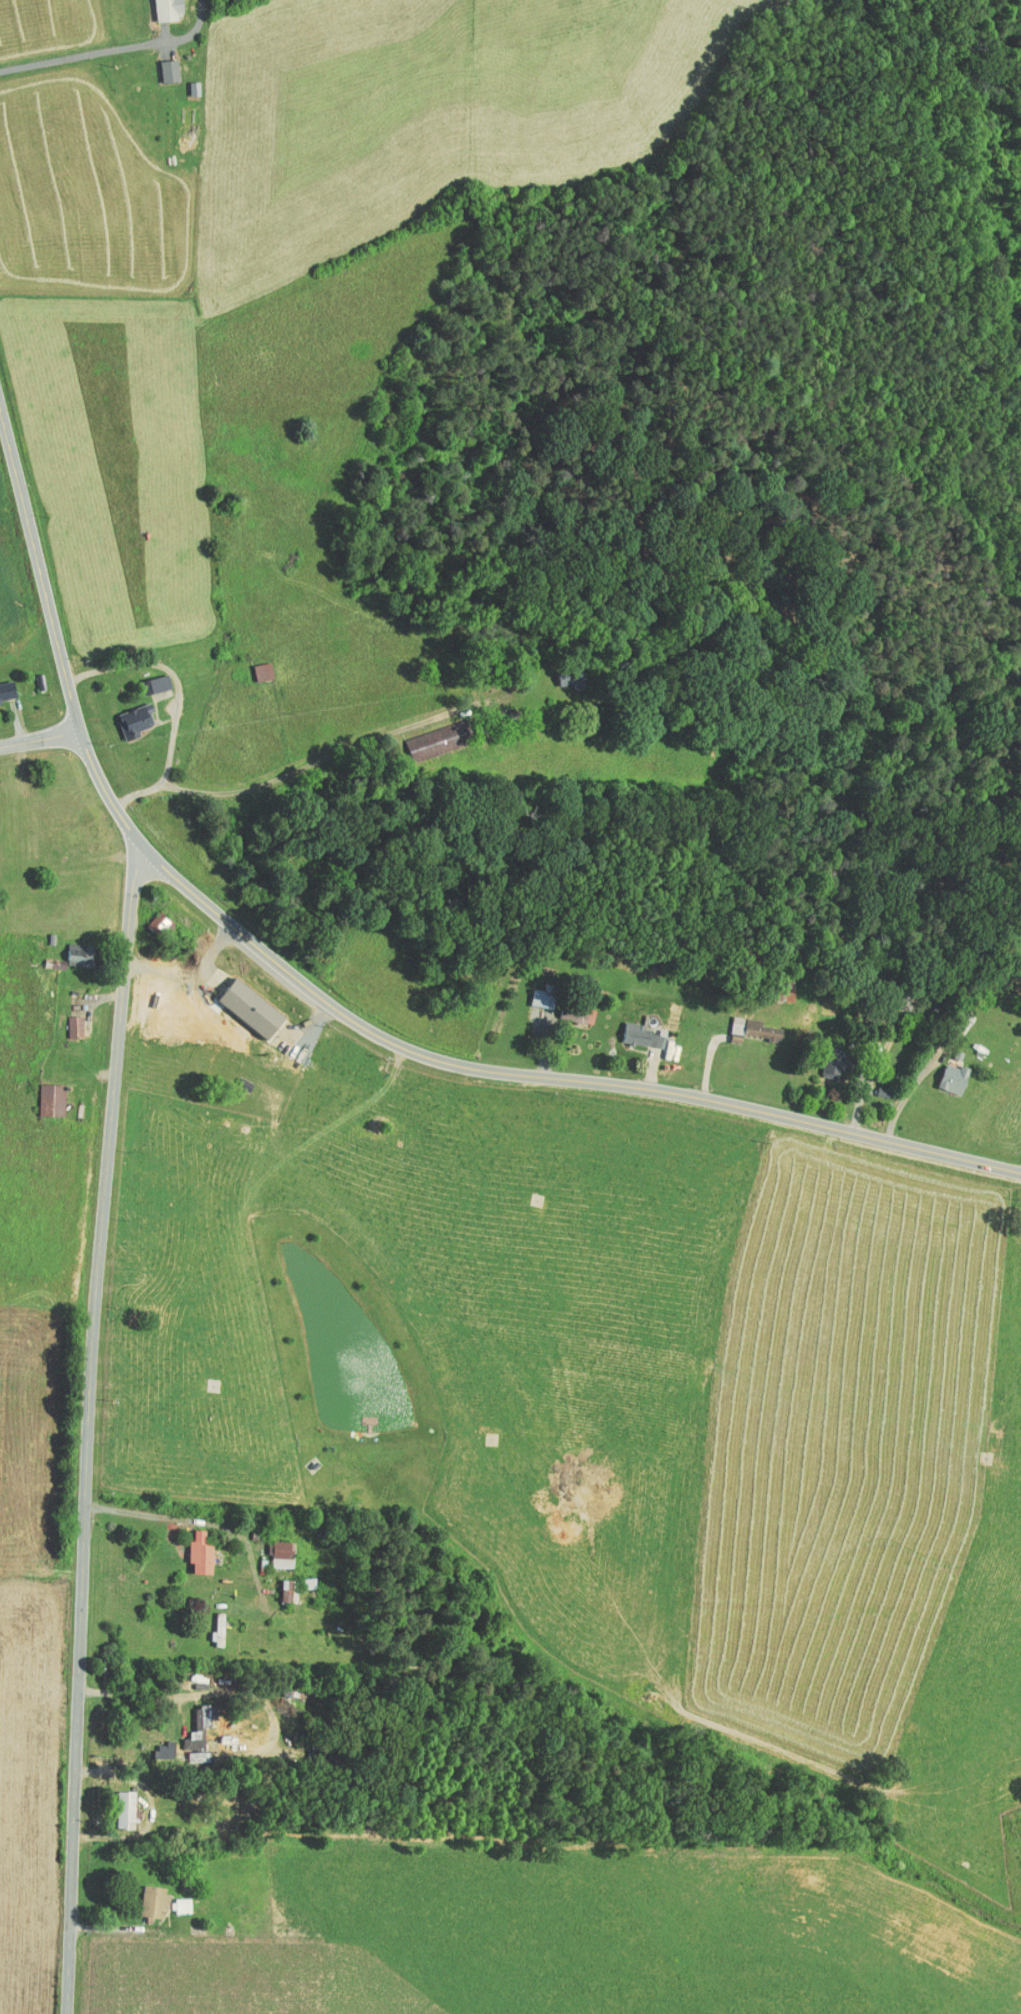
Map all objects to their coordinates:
building: (155, 7)
road: (82, 55)
building: (160, 64)
building: (253, 664)
road: (171, 672)
building: (149, 677)
building: (2, 684)
building: (125, 714)
building: (423, 735)
road: (38, 739)
road: (291, 772)
building: (148, 916)
building: (64, 950)
building: (773, 988)
building: (533, 991)
building: (240, 1001)
road: (334, 1005)
building: (567, 1006)
building: (65, 1019)
building: (741, 1023)
building: (631, 1029)
building: (822, 1059)
building: (943, 1071)
building: (41, 1093)
road: (91, 1426)
road: (197, 1519)
building: (190, 1547)
building: (271, 1547)
building: (277, 1585)
building: (208, 1624)
building: (154, 1743)
building: (115, 1804)
building: (144, 1896)
building: (171, 1900)

